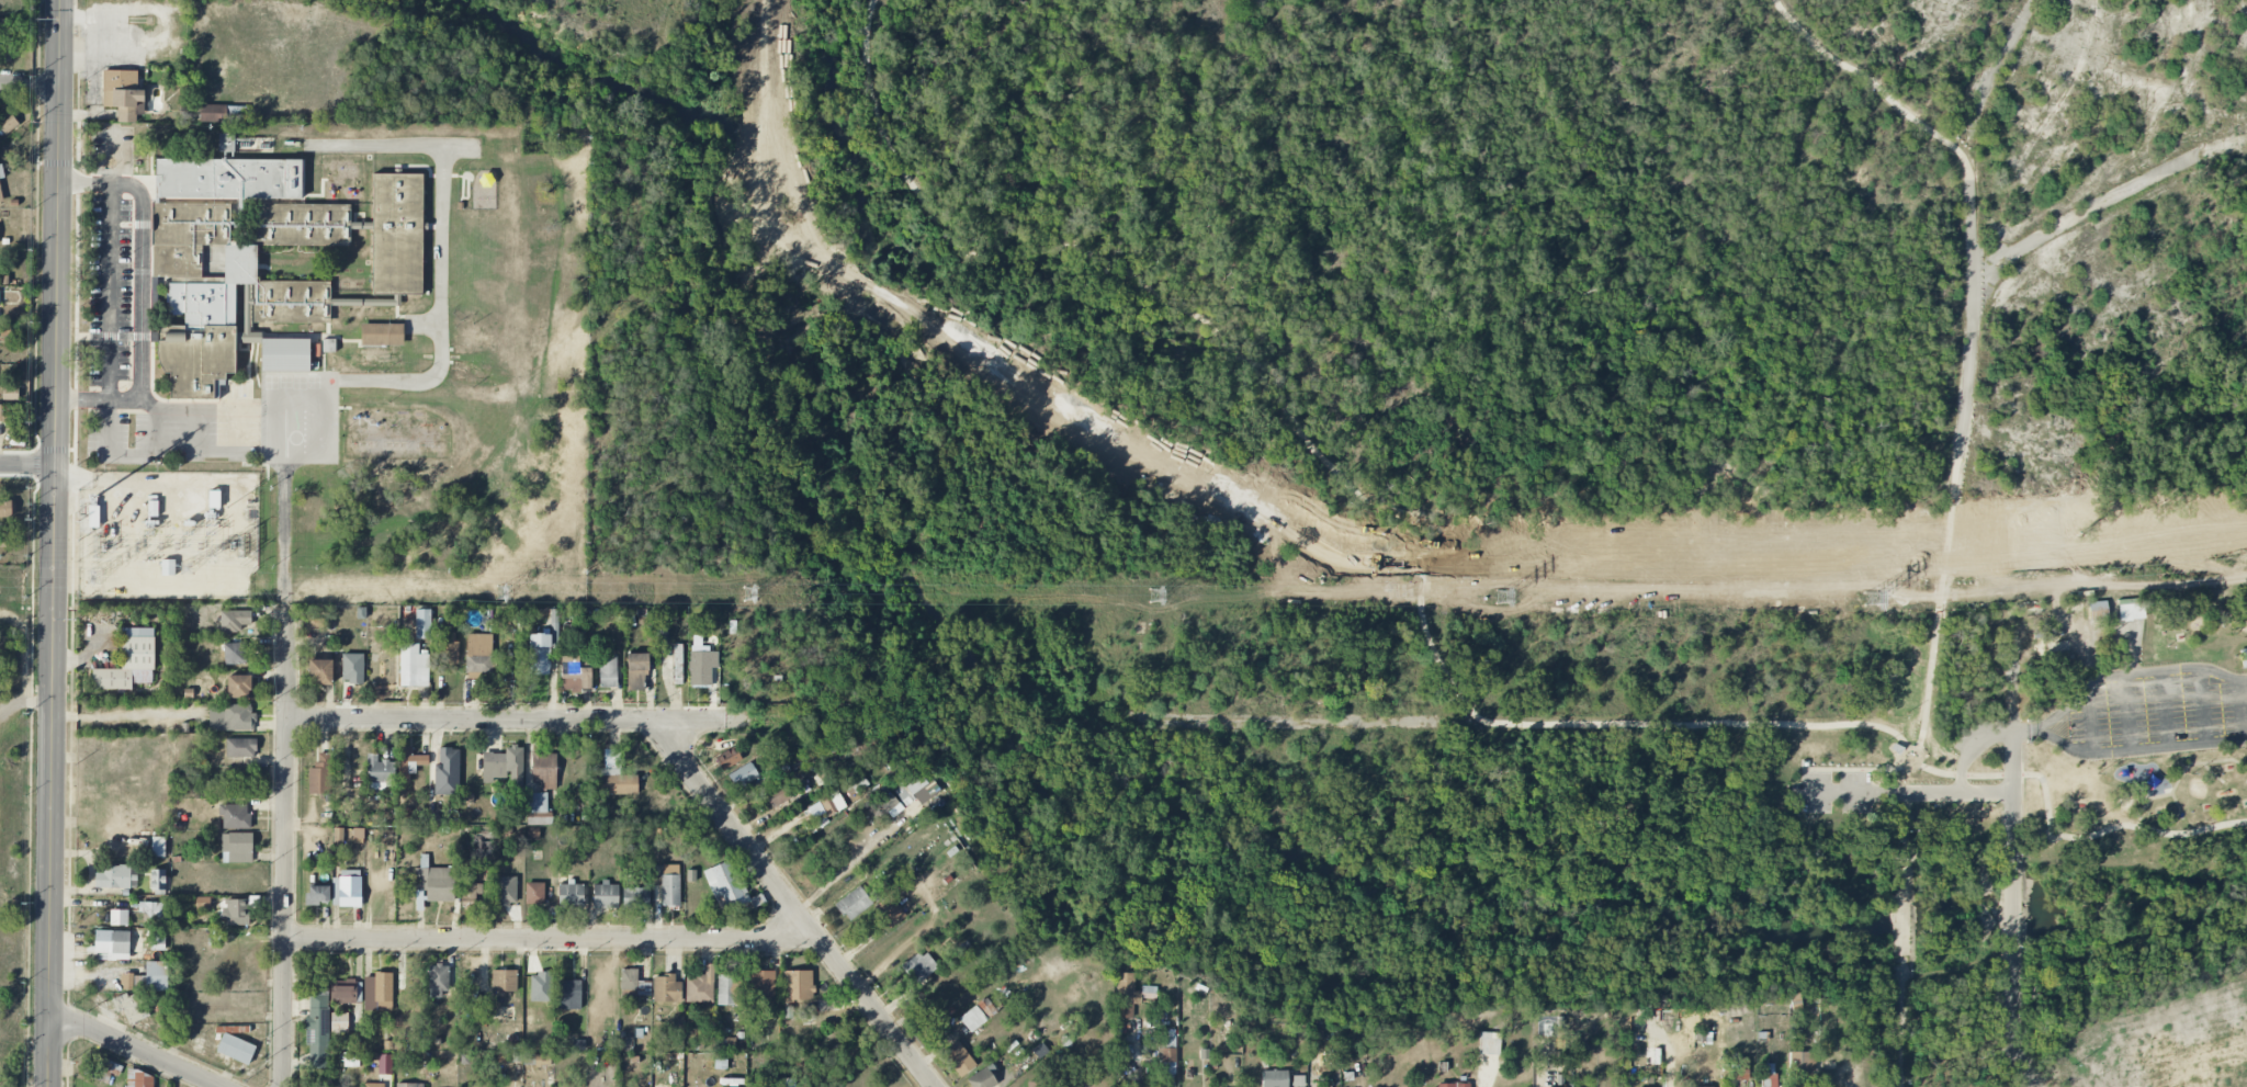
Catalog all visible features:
building: (4, 39)
road: (1877, 86)
road: (29, 87)
building: (122, 93)
building: (221, 114)
building: (8, 122)
building: (226, 143)
building: (1, 171)
building: (229, 179)
road: (84, 184)
building: (0, 194)
building: (397, 234)
building: (185, 235)
road: (111, 264)
road: (143, 296)
road: (1972, 319)
building: (208, 321)
building: (382, 346)
building: (472, 373)
building: (10, 393)
road: (82, 400)
park: (1435, 408)
building: (3, 412)
road: (159, 431)
road: (224, 452)
road: (181, 453)
road: (26, 463)
building: (5, 508)
building: (94, 517)
power substation: (167, 534)
road: (53, 543)
building: (169, 567)
power tower: (188, 570)
power tower: (94, 577)
power tower: (507, 592)
power tower: (1155, 595)
power tower: (749, 598)
power tower: (1502, 598)
power tower: (1871, 600)
road: (1940, 610)
building: (2131, 610)
building: (2097, 611)
road: (1422, 620)
building: (234, 621)
building: (422, 623)
building: (662, 635)
building: (542, 647)
building: (234, 653)
building: (478, 654)
building: (2243, 657)
building: (129, 661)
building: (701, 665)
building: (413, 666)
building: (352, 668)
building: (608, 670)
building: (319, 671)
building: (636, 671)
road: (2131, 673)
building: (574, 675)
building: (238, 687)
road: (2204, 705)
road: (2166, 709)
road: (2242, 710)
road: (2127, 712)
parking lot: (2148, 712)
building: (230, 717)
road: (2090, 720)
road: (506, 721)
road: (1318, 722)
parking lot: (1979, 737)
building: (240, 747)
road: (1972, 749)
road: (2127, 750)
park: (2137, 751)
building: (727, 758)
building: (409, 763)
building: (504, 766)
building: (379, 769)
building: (544, 770)
road: (1877, 770)
road: (2186, 770)
building: (447, 772)
road: (2211, 772)
building: (320, 774)
building: (743, 775)
building: (617, 782)
road: (2013, 785)
building: (914, 789)
parking lot: (1839, 792)
road: (1904, 794)
building: (777, 795)
building: (888, 801)
road: (2175, 802)
building: (832, 803)
building: (538, 809)
building: (815, 809)
road: (1905, 815)
building: (235, 816)
road: (1905, 845)
road: (284, 846)
building: (236, 847)
road: (850, 862)
building: (113, 876)
building: (157, 881)
building: (436, 883)
building: (670, 885)
building: (724, 885)
building: (347, 888)
building: (505, 891)
building: (534, 893)
building: (471, 894)
building: (569, 894)
building: (317, 895)
building: (606, 895)
building: (635, 898)
building: (854, 903)
road: (2012, 904)
road: (794, 906)
road: (1904, 906)
building: (154, 912)
building: (235, 912)
building: (890, 912)
building: (118, 917)
road: (547, 939)
building: (110, 946)
building: (918, 966)
building: (147, 978)
building: (438, 980)
building: (504, 981)
building: (634, 983)
building: (761, 984)
building: (798, 985)
building: (700, 986)
building: (666, 988)
building: (726, 988)
building: (343, 990)
building: (377, 992)
building: (568, 994)
building: (1130, 995)
building: (131, 1007)
building: (976, 1015)
building: (339, 1022)
road: (1902, 1022)
building: (317, 1030)
road: (2013, 1030)
building: (1489, 1043)
road: (134, 1049)
building: (235, 1049)
building: (1167, 1055)
building: (958, 1058)
building: (537, 1060)
building: (1802, 1062)
building: (384, 1064)
building: (1739, 1068)
building: (102, 1069)
building: (1769, 1075)
building: (1274, 1078)
building: (139, 1079)
building: (981, 1079)
building: (1298, 1082)
building: (1037, 1084)
building: (373, 1085)
building: (409, 1085)
building: (1453, 1085)

